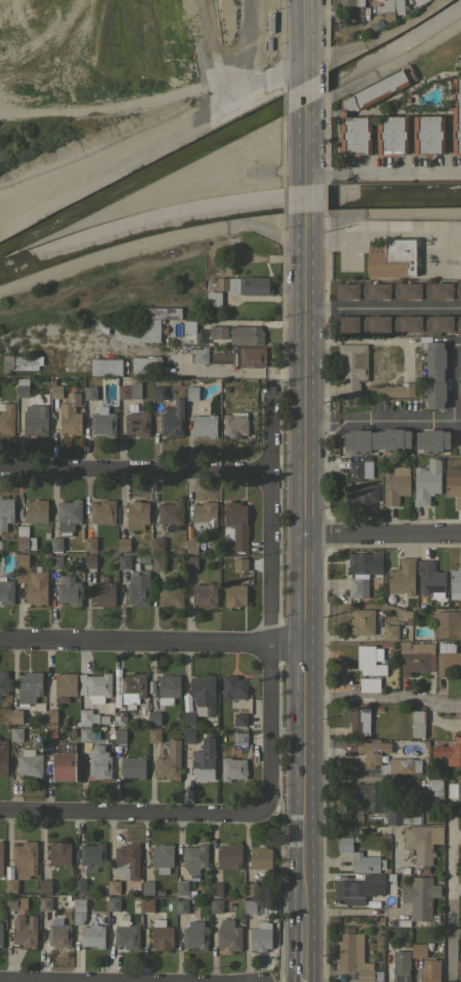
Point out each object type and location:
building: (351, 2)
building: (390, 8)
building: (367, 18)
building: (367, 26)
road: (300, 38)
quarry: (84, 60)
road: (301, 101)
building: (342, 111)
building: (456, 115)
building: (391, 134)
building: (428, 134)
road: (302, 155)
road: (381, 172)
road: (302, 203)
building: (392, 257)
building: (201, 283)
building: (241, 285)
building: (399, 290)
building: (213, 299)
road: (382, 305)
building: (159, 312)
building: (101, 324)
building: (399, 324)
building: (189, 326)
building: (136, 329)
building: (217, 331)
building: (246, 334)
building: (199, 355)
building: (246, 356)
building: (220, 359)
building: (20, 362)
building: (106, 366)
building: (146, 366)
building: (353, 367)
building: (433, 372)
road: (451, 375)
building: (248, 384)
building: (22, 387)
building: (129, 389)
building: (228, 389)
building: (392, 390)
building: (56, 391)
building: (90, 392)
building: (158, 392)
building: (192, 393)
building: (70, 415)
building: (6, 416)
building: (172, 419)
road: (382, 419)
building: (36, 421)
building: (102, 421)
building: (137, 423)
building: (234, 424)
building: (205, 425)
building: (460, 436)
building: (376, 440)
building: (431, 440)
building: (359, 470)
road: (134, 473)
building: (426, 481)
building: (394, 484)
building: (453, 484)
building: (363, 497)
building: (35, 510)
building: (6, 512)
building: (103, 512)
building: (170, 512)
building: (137, 514)
building: (67, 516)
building: (204, 517)
building: (236, 525)
building: (46, 535)
road: (384, 536)
building: (24, 538)
building: (56, 543)
building: (0, 544)
building: (90, 544)
building: (124, 544)
building: (157, 544)
building: (191, 546)
building: (144, 559)
building: (56, 561)
building: (89, 561)
building: (123, 561)
building: (191, 562)
building: (365, 562)
building: (158, 563)
building: (240, 564)
road: (308, 565)
building: (402, 577)
building: (31, 579)
building: (430, 579)
building: (455, 583)
building: (355, 587)
building: (138, 588)
building: (68, 590)
building: (6, 591)
building: (102, 591)
building: (170, 594)
building: (204, 594)
building: (235, 595)
road: (268, 596)
building: (361, 622)
building: (446, 624)
building: (390, 632)
road: (153, 642)
building: (416, 657)
building: (447, 658)
building: (368, 661)
building: (3, 683)
building: (150, 685)
building: (369, 685)
building: (29, 686)
building: (64, 686)
building: (98, 687)
building: (234, 687)
building: (133, 688)
building: (168, 688)
building: (200, 697)
road: (384, 698)
building: (378, 707)
building: (16, 716)
building: (87, 717)
building: (104, 717)
building: (119, 717)
building: (154, 718)
building: (240, 719)
building: (358, 720)
building: (417, 723)
building: (50, 725)
building: (65, 730)
building: (73, 731)
building: (14, 733)
building: (85, 734)
building: (154, 735)
building: (119, 736)
building: (188, 736)
building: (240, 738)
building: (109, 744)
building: (13, 745)
building: (117, 748)
building: (66, 749)
building: (449, 751)
building: (370, 752)
building: (384, 756)
building: (3, 758)
building: (168, 760)
building: (204, 760)
building: (99, 762)
building: (29, 763)
building: (402, 765)
building: (64, 766)
building: (132, 767)
building: (232, 768)
building: (435, 787)
building: (454, 790)
building: (383, 807)
road: (131, 814)
building: (356, 838)
building: (422, 841)
building: (59, 854)
building: (92, 854)
building: (229, 856)
building: (260, 856)
building: (361, 857)
building: (162, 858)
building: (194, 858)
building: (1, 859)
building: (127, 860)
building: (22, 864)
building: (8, 871)
building: (45, 885)
building: (80, 886)
building: (181, 886)
building: (113, 887)
building: (147, 887)
building: (359, 888)
building: (216, 889)
building: (250, 889)
building: (160, 893)
building: (420, 897)
road: (449, 899)
building: (15, 902)
building: (45, 903)
building: (125, 903)
building: (113, 904)
building: (147, 904)
building: (79, 905)
building: (181, 906)
building: (216, 906)
building: (255, 907)
building: (110, 917)
building: (76, 918)
building: (390, 920)
building: (43, 923)
building: (344, 928)
building: (24, 931)
building: (58, 933)
building: (126, 933)
building: (161, 934)
building: (1, 935)
building: (195, 935)
building: (229, 935)
building: (92, 936)
building: (260, 936)
road: (308, 945)
building: (368, 950)
building: (355, 958)
building: (425, 963)
building: (400, 966)
building: (459, 966)
road: (79, 980)

